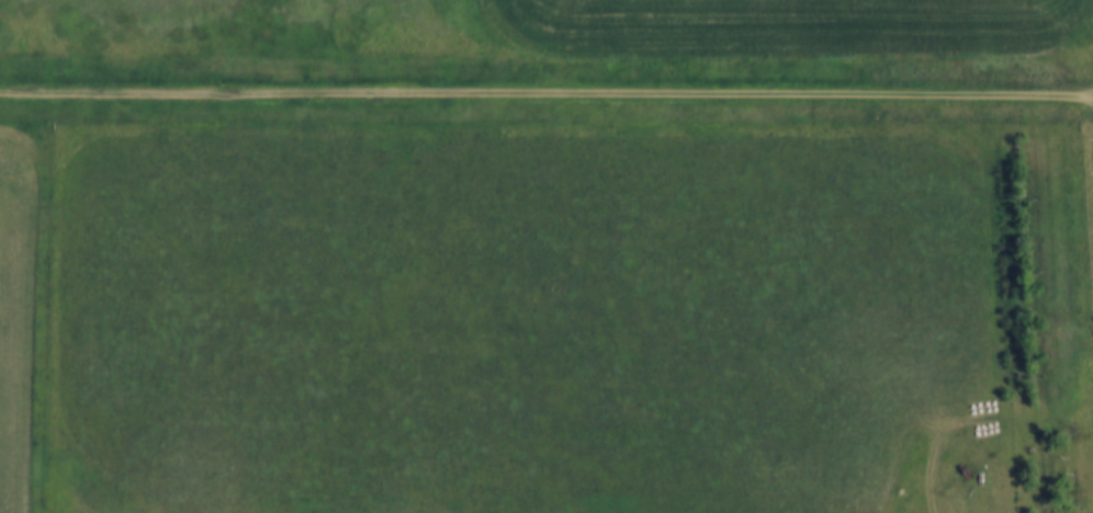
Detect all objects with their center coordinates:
road: (546, 94)
building: (559, 353)

